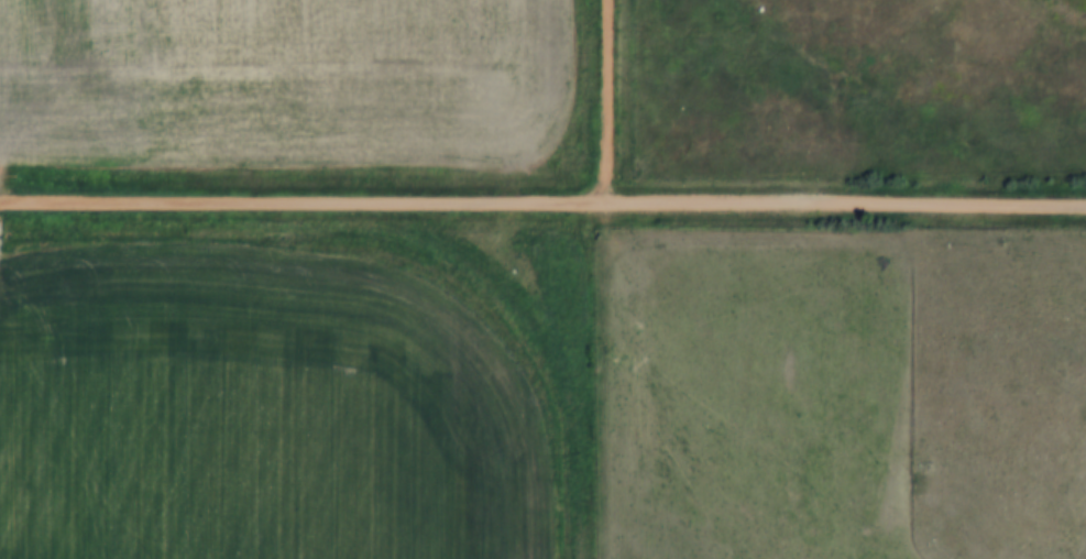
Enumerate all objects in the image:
road: (607, 102)
road: (542, 205)

